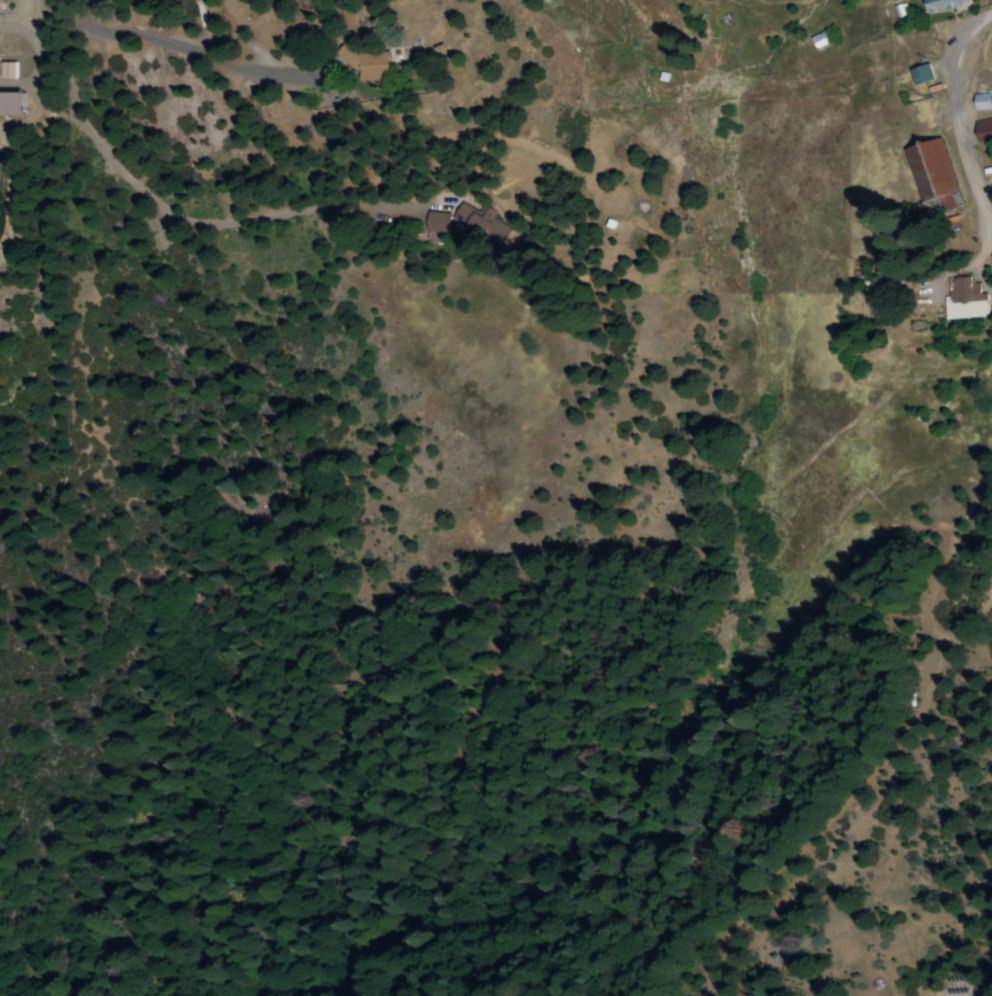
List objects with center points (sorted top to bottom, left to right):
building: (938, 4)
building: (819, 40)
building: (366, 63)
building: (7, 70)
building: (919, 73)
road: (286, 101)
building: (981, 101)
building: (9, 102)
road: (959, 110)
road: (86, 120)
building: (982, 129)
road: (162, 159)
building: (930, 171)
wastewater plant: (3, 194)
road: (371, 204)
building: (435, 222)
building: (479, 222)
building: (633, 243)
building: (964, 300)

